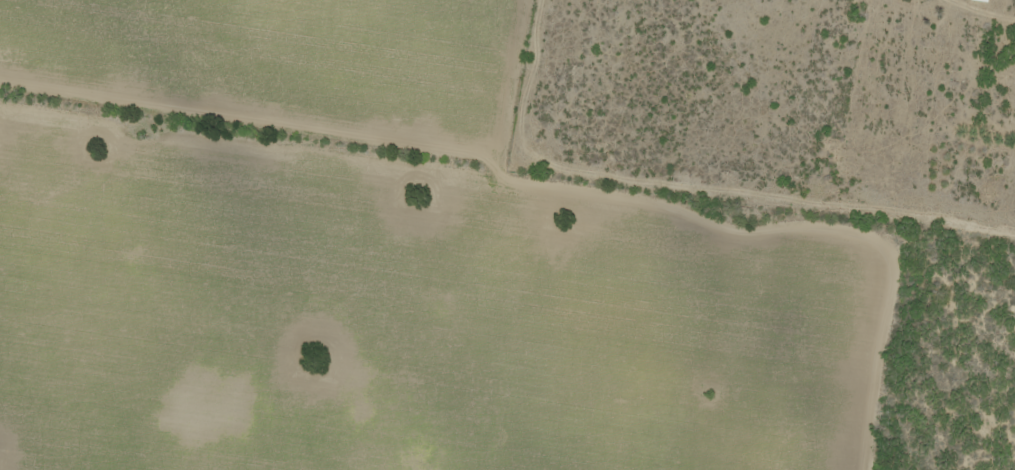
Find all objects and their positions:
building: (982, 0)
road: (750, 207)

